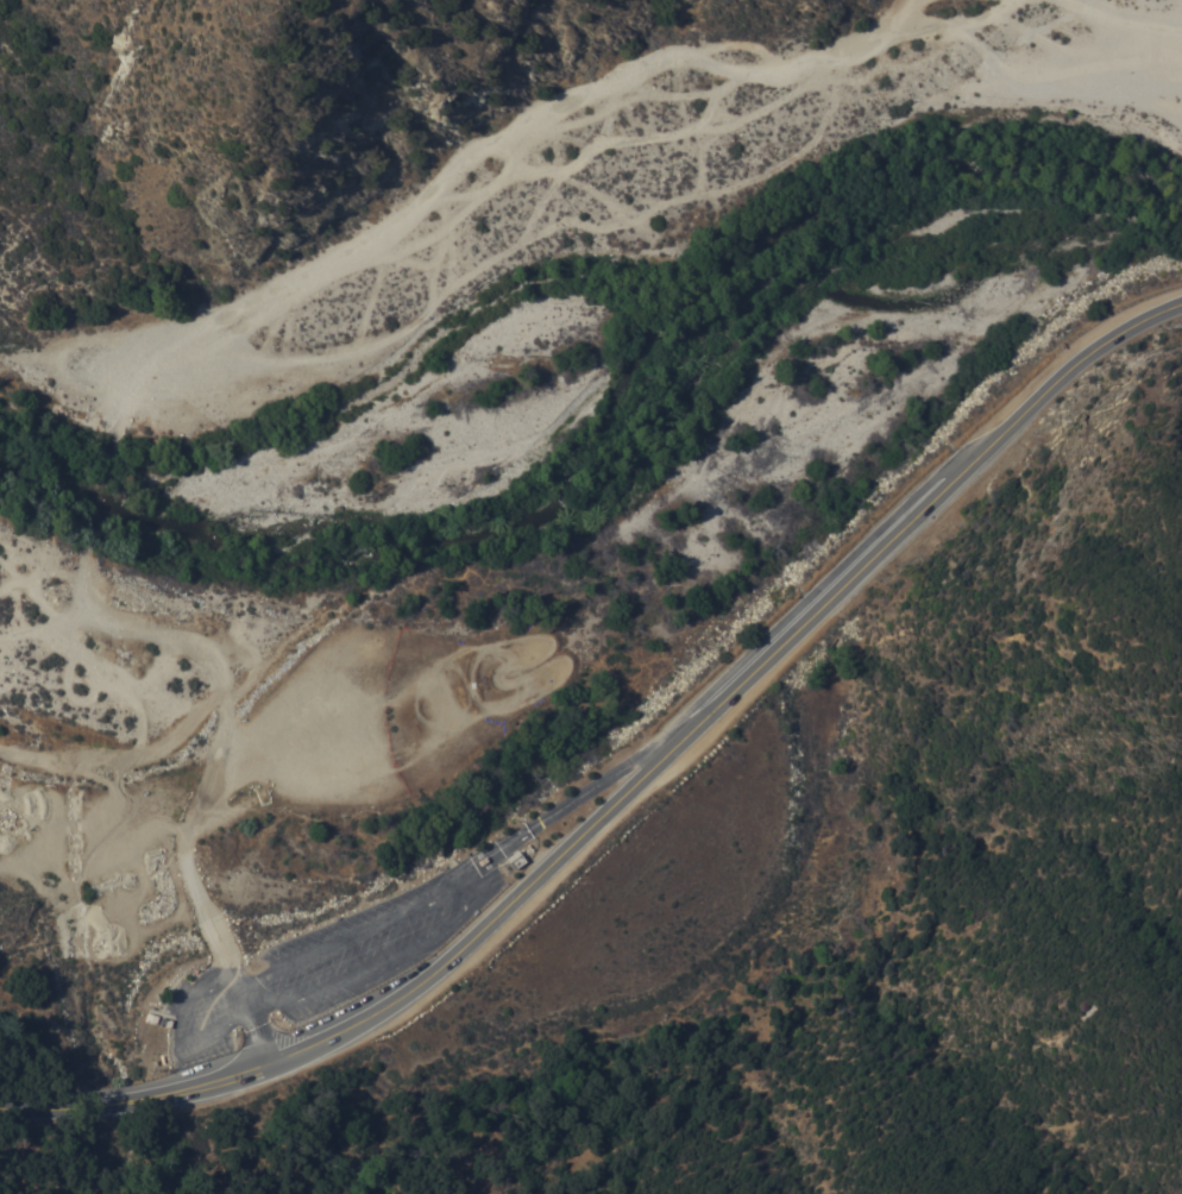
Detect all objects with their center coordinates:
road: (899, 15)
road: (1115, 24)
road: (967, 26)
road: (38, 243)
road: (186, 337)
road: (52, 369)
river: (605, 394)
road: (530, 684)
road: (592, 785)
road: (631, 787)
building: (515, 857)
parking lot: (322, 963)
road: (180, 1019)
road: (258, 1019)
road: (249, 1024)
road: (295, 1132)

